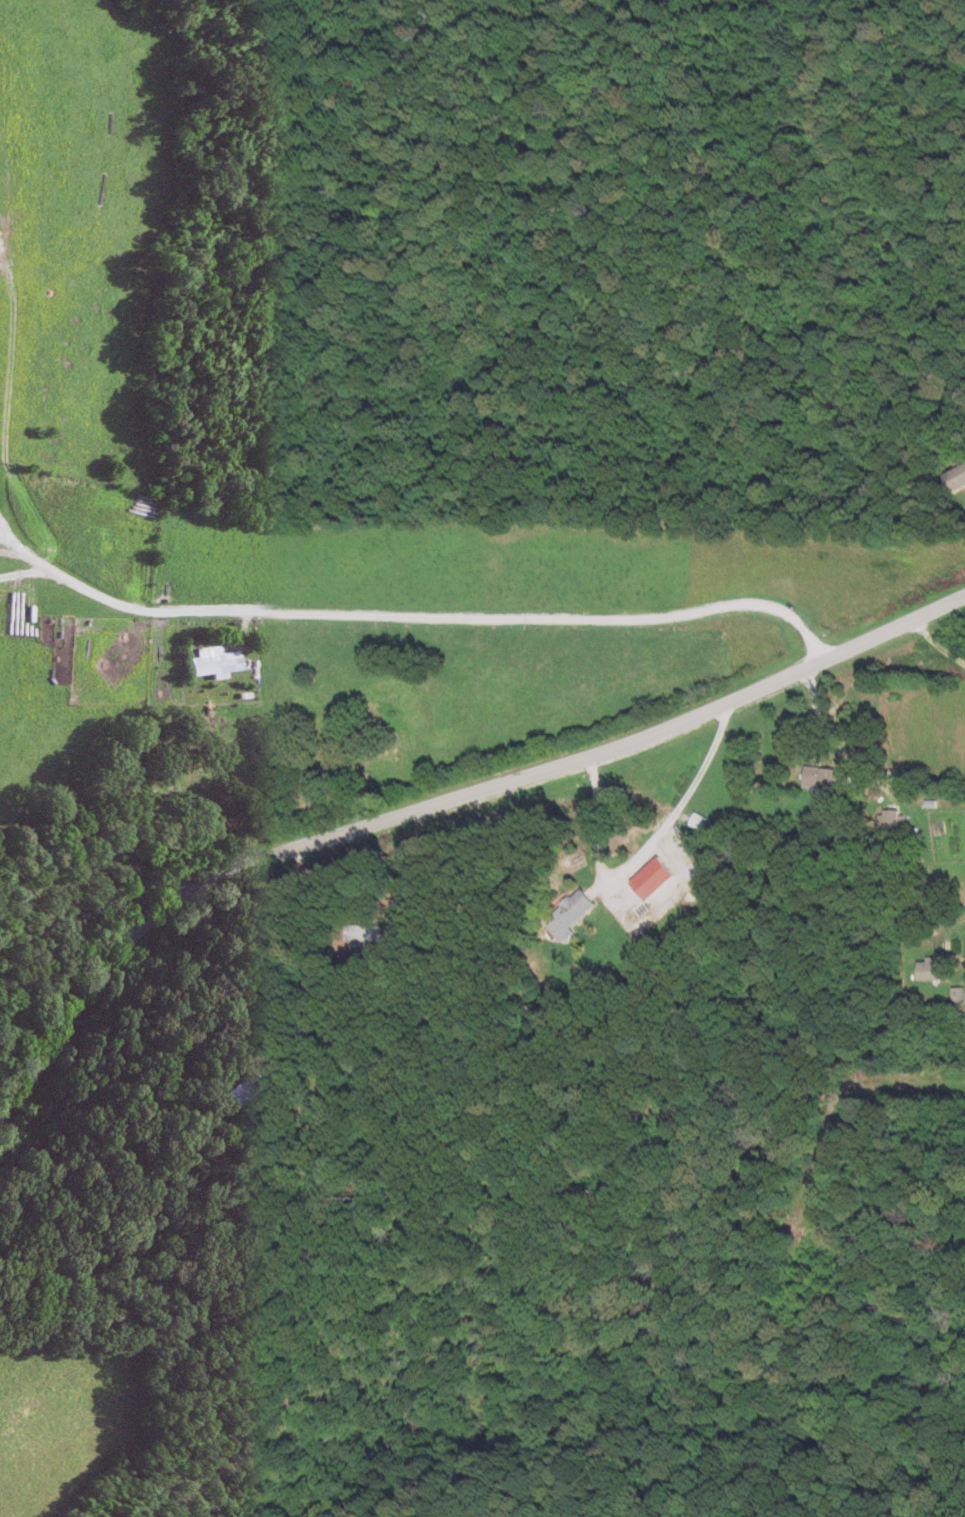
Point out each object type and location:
building: (951, 476)
road: (23, 556)
road: (21, 574)
road: (438, 616)
road: (933, 646)
building: (208, 662)
building: (813, 775)
road: (439, 796)
building: (885, 817)
road: (637, 849)
building: (645, 877)
building: (563, 912)
building: (353, 932)
building: (923, 967)

